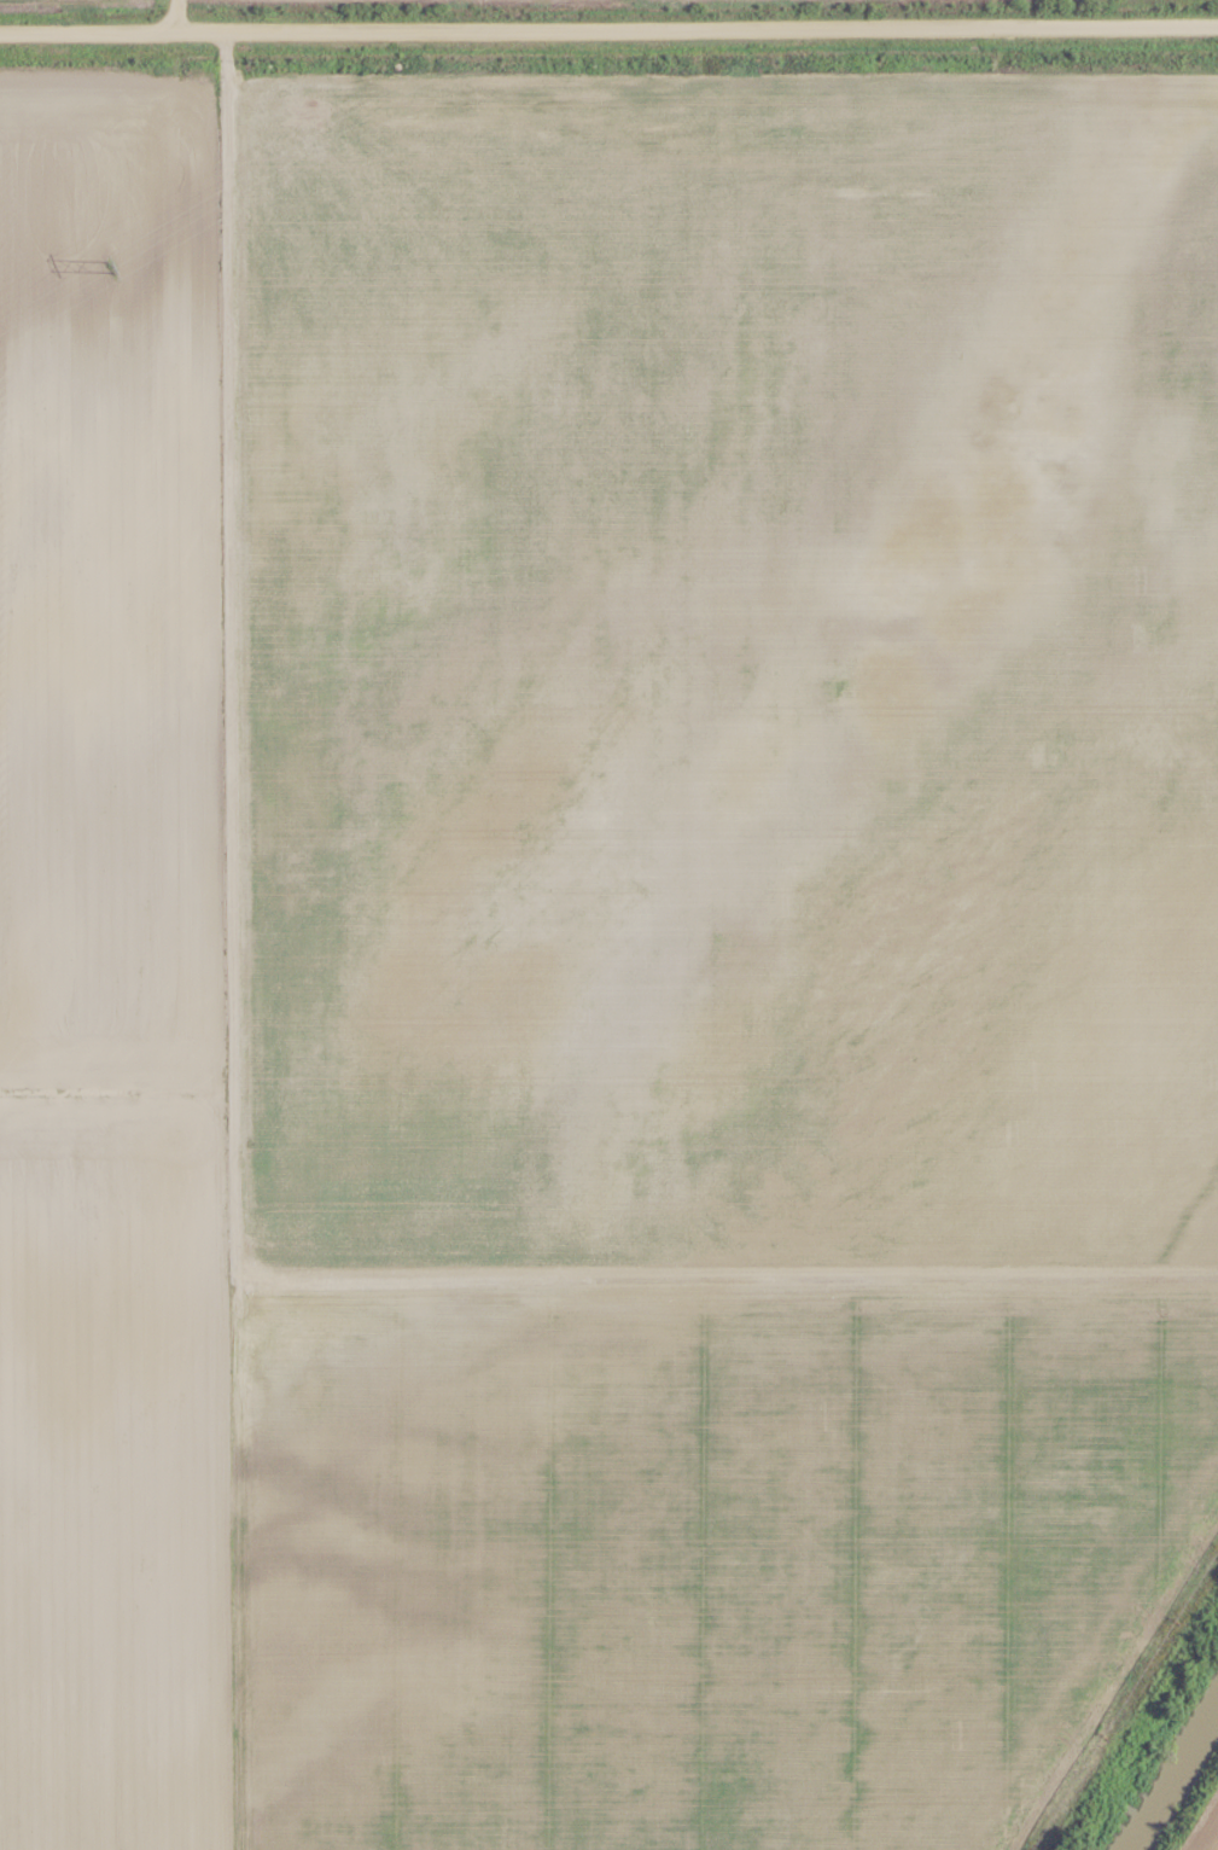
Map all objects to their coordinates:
road: (180, 16)
road: (608, 29)
power tower: (115, 268)

